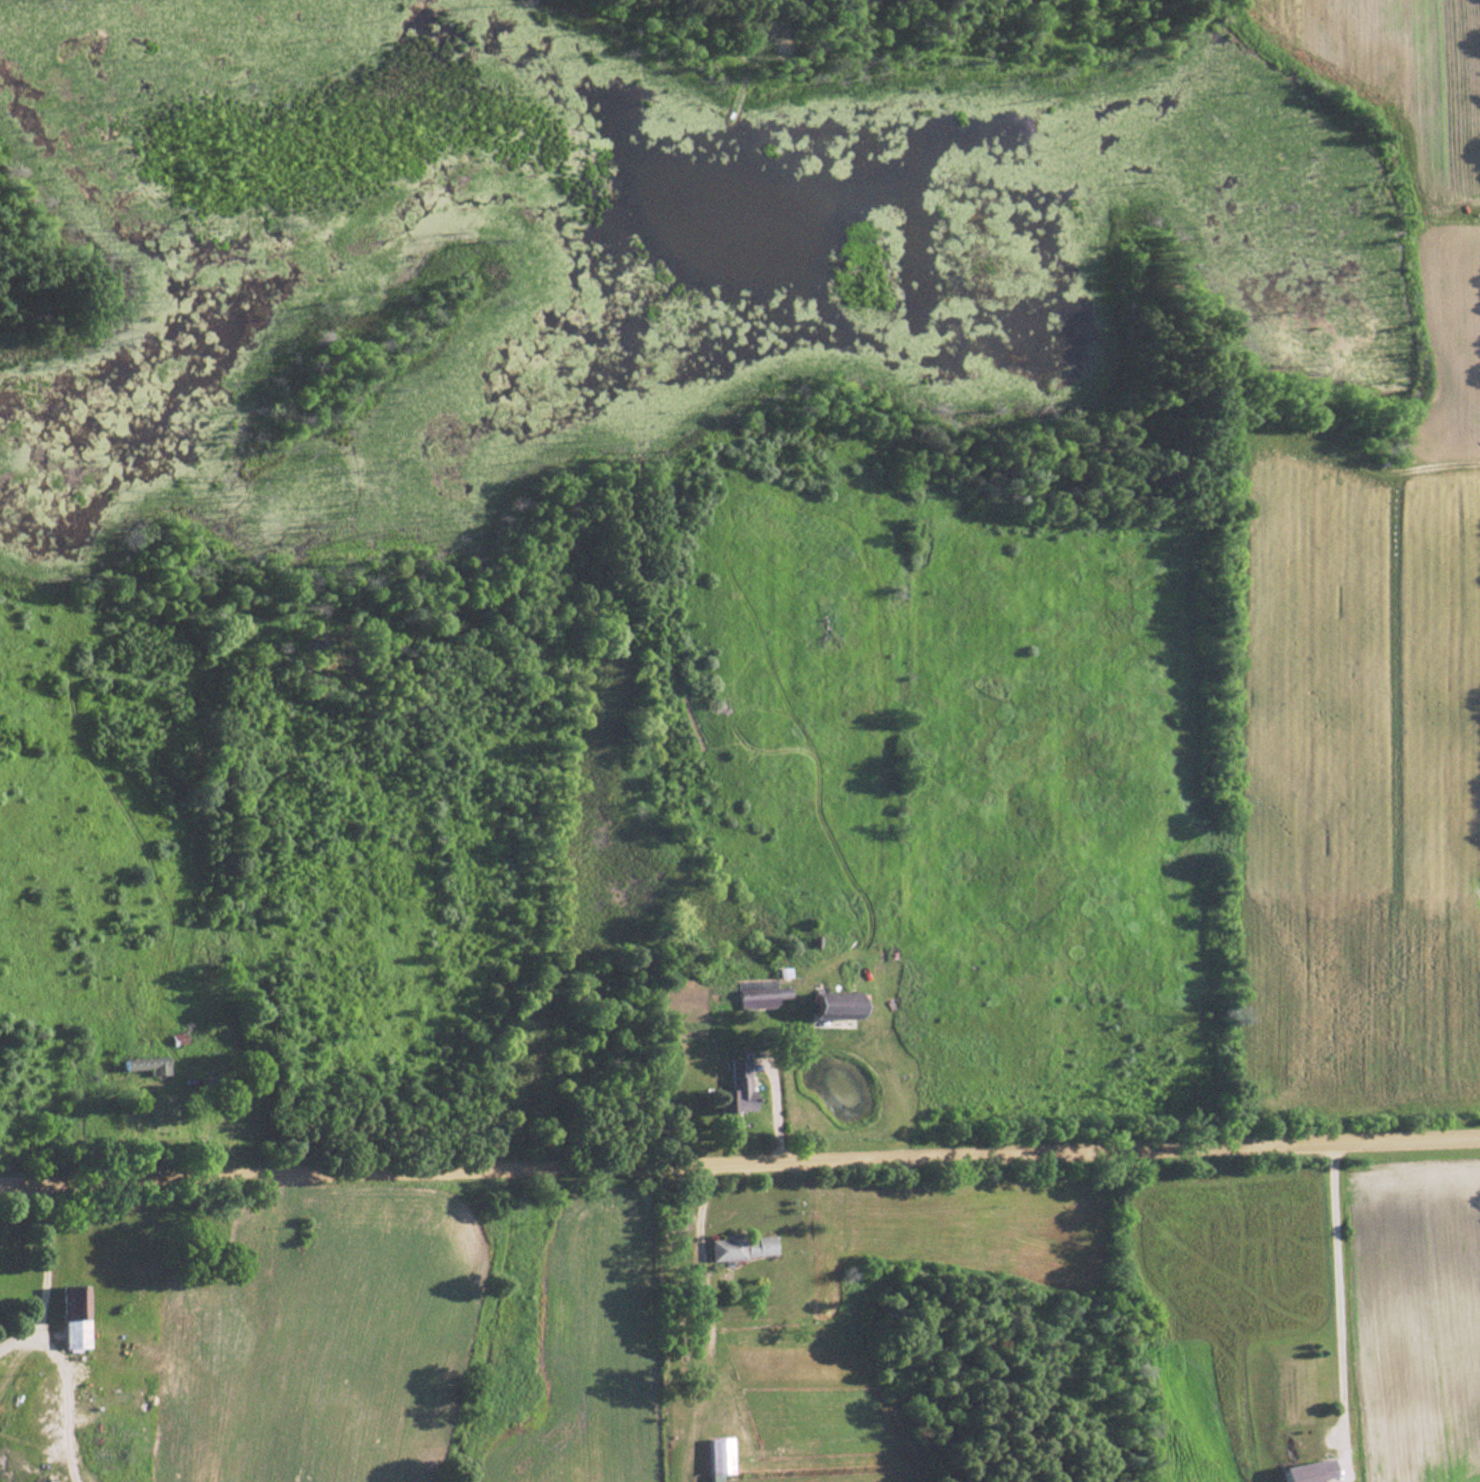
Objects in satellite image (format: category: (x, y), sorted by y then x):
building: (779, 973)
building: (758, 998)
building: (823, 1009)
building: (145, 1066)
building: (732, 1089)
road: (739, 1154)
building: (737, 1246)
road: (52, 1257)
road: (1333, 1311)
building: (70, 1317)
building: (714, 1456)
building: (1306, 1472)

